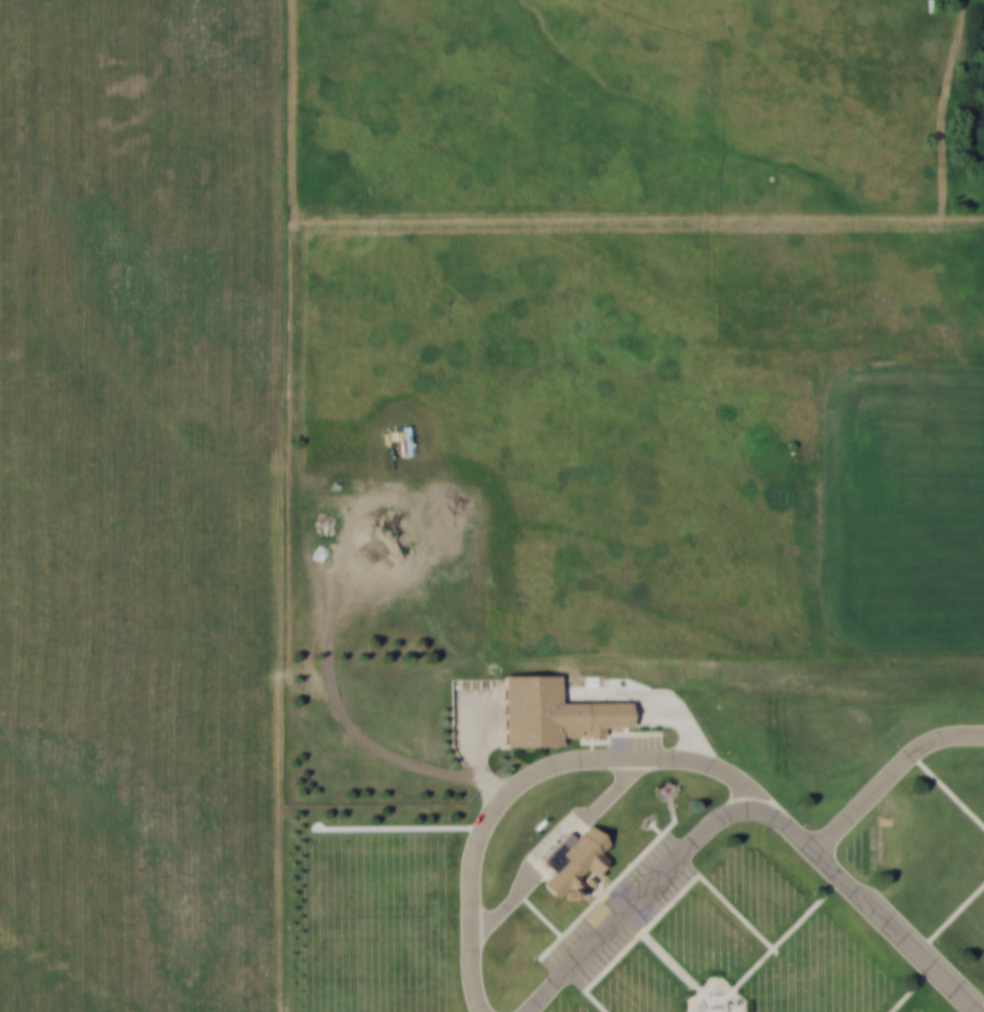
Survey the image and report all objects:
road: (616, 50)
building: (557, 711)
road: (682, 719)
road: (468, 756)
road: (889, 774)
road: (525, 775)
road: (947, 790)
park: (631, 831)
road: (552, 838)
road: (668, 840)
building: (577, 861)
road: (602, 884)
road: (594, 893)
road: (605, 895)
road: (636, 900)
road: (869, 904)
road: (670, 906)
road: (539, 914)
parking lot: (624, 914)
road: (951, 917)
road: (787, 934)
road: (672, 962)
road: (555, 963)
road: (727, 985)
road: (913, 990)
road: (716, 997)
road: (692, 1001)
road: (708, 1004)
flagpole: (719, 1004)
road: (722, 1004)
flagpole: (710, 1005)
flagpole: (714, 1005)
road: (715, 1011)

